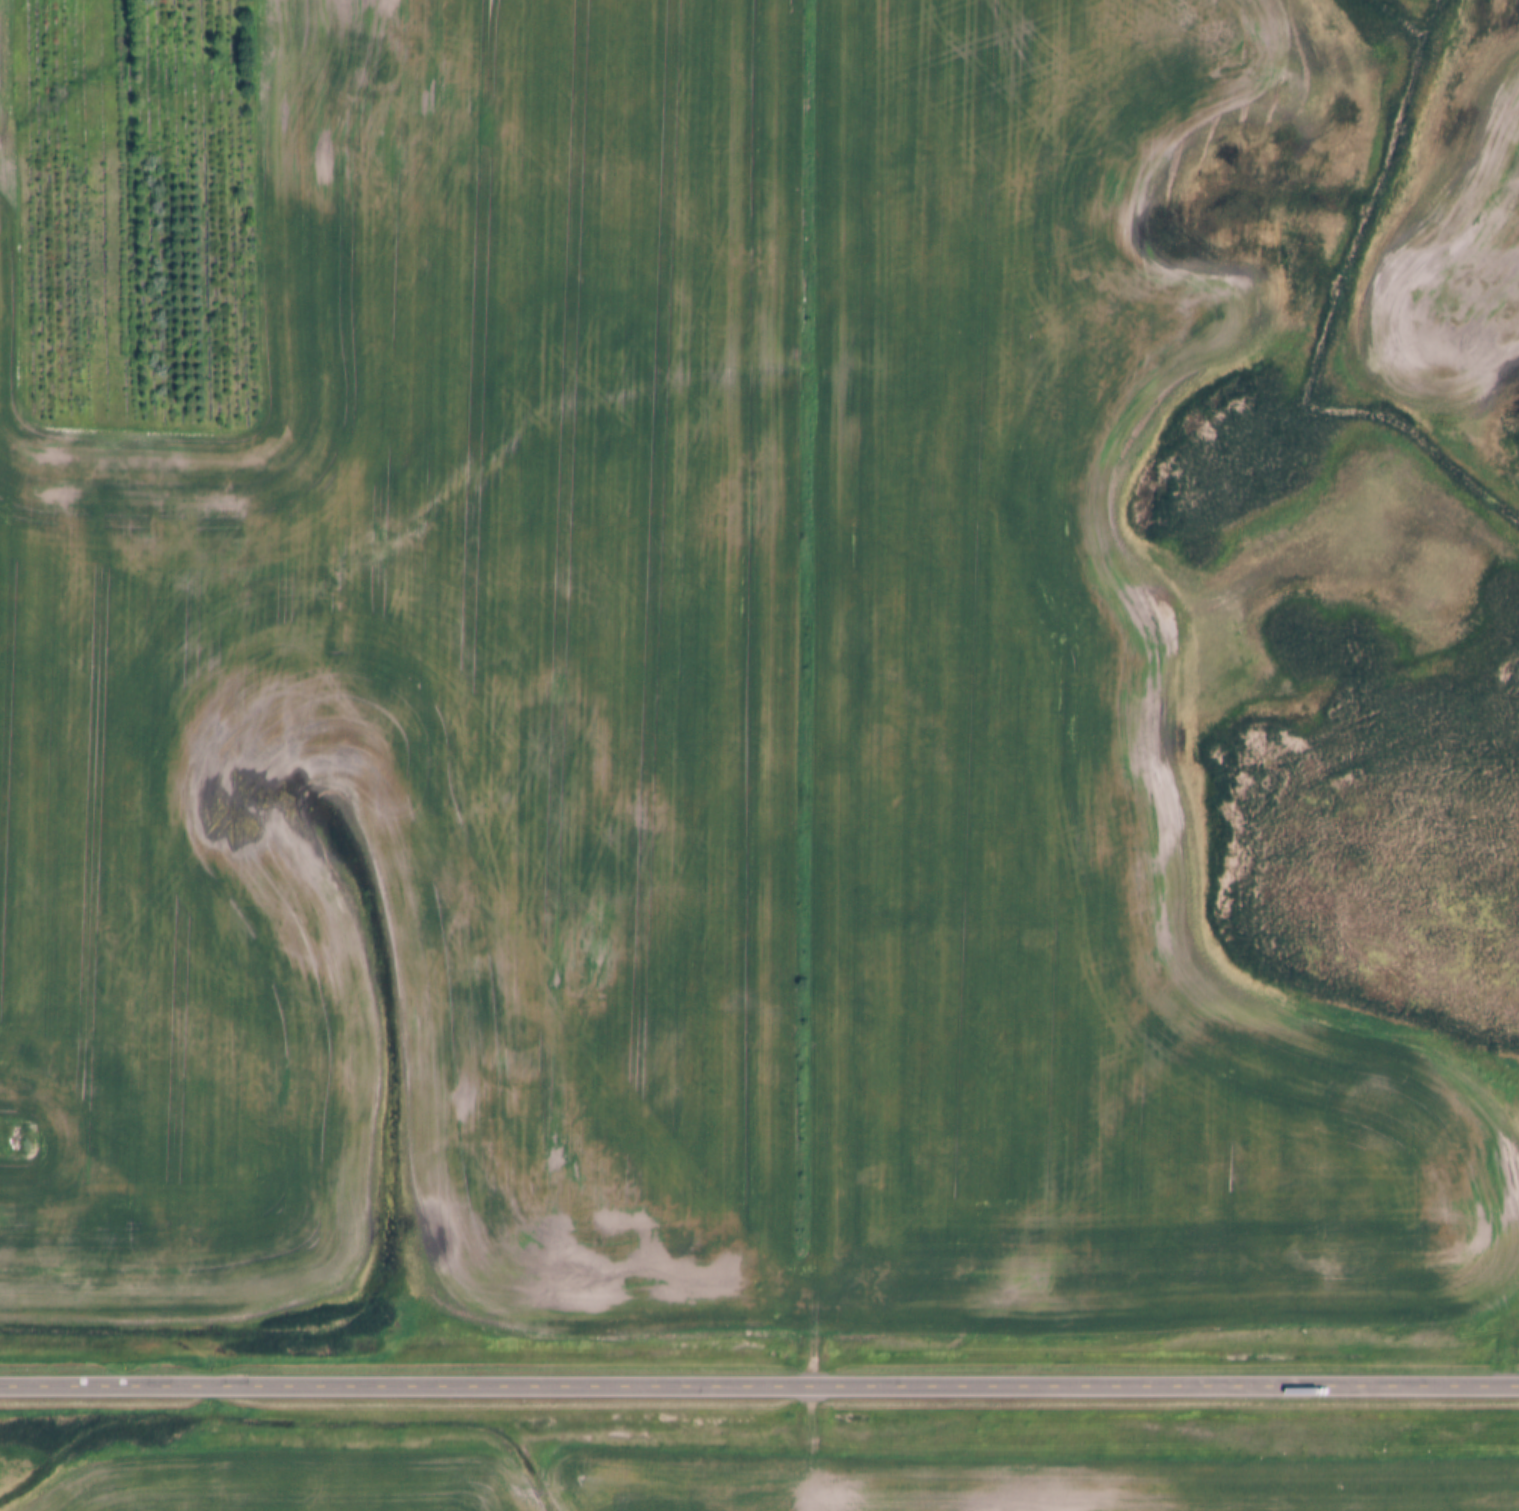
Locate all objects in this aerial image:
road: (759, 1383)

